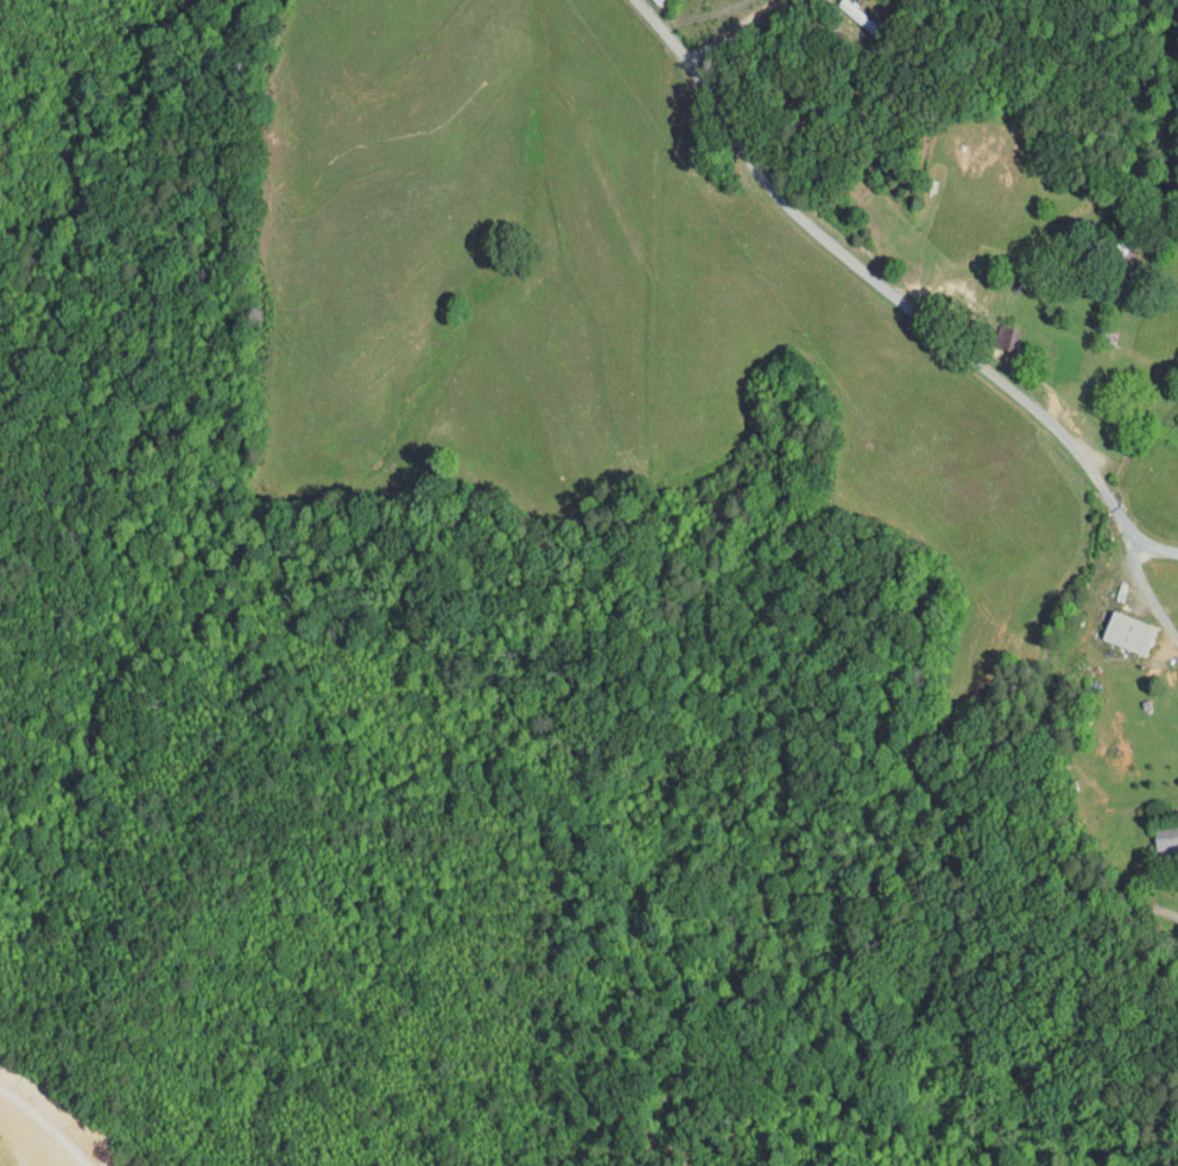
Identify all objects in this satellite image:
road: (708, 14)
road: (749, 31)
road: (869, 275)
building: (992, 331)
road: (1151, 544)
road: (1145, 587)
building: (1114, 627)
building: (1158, 832)

